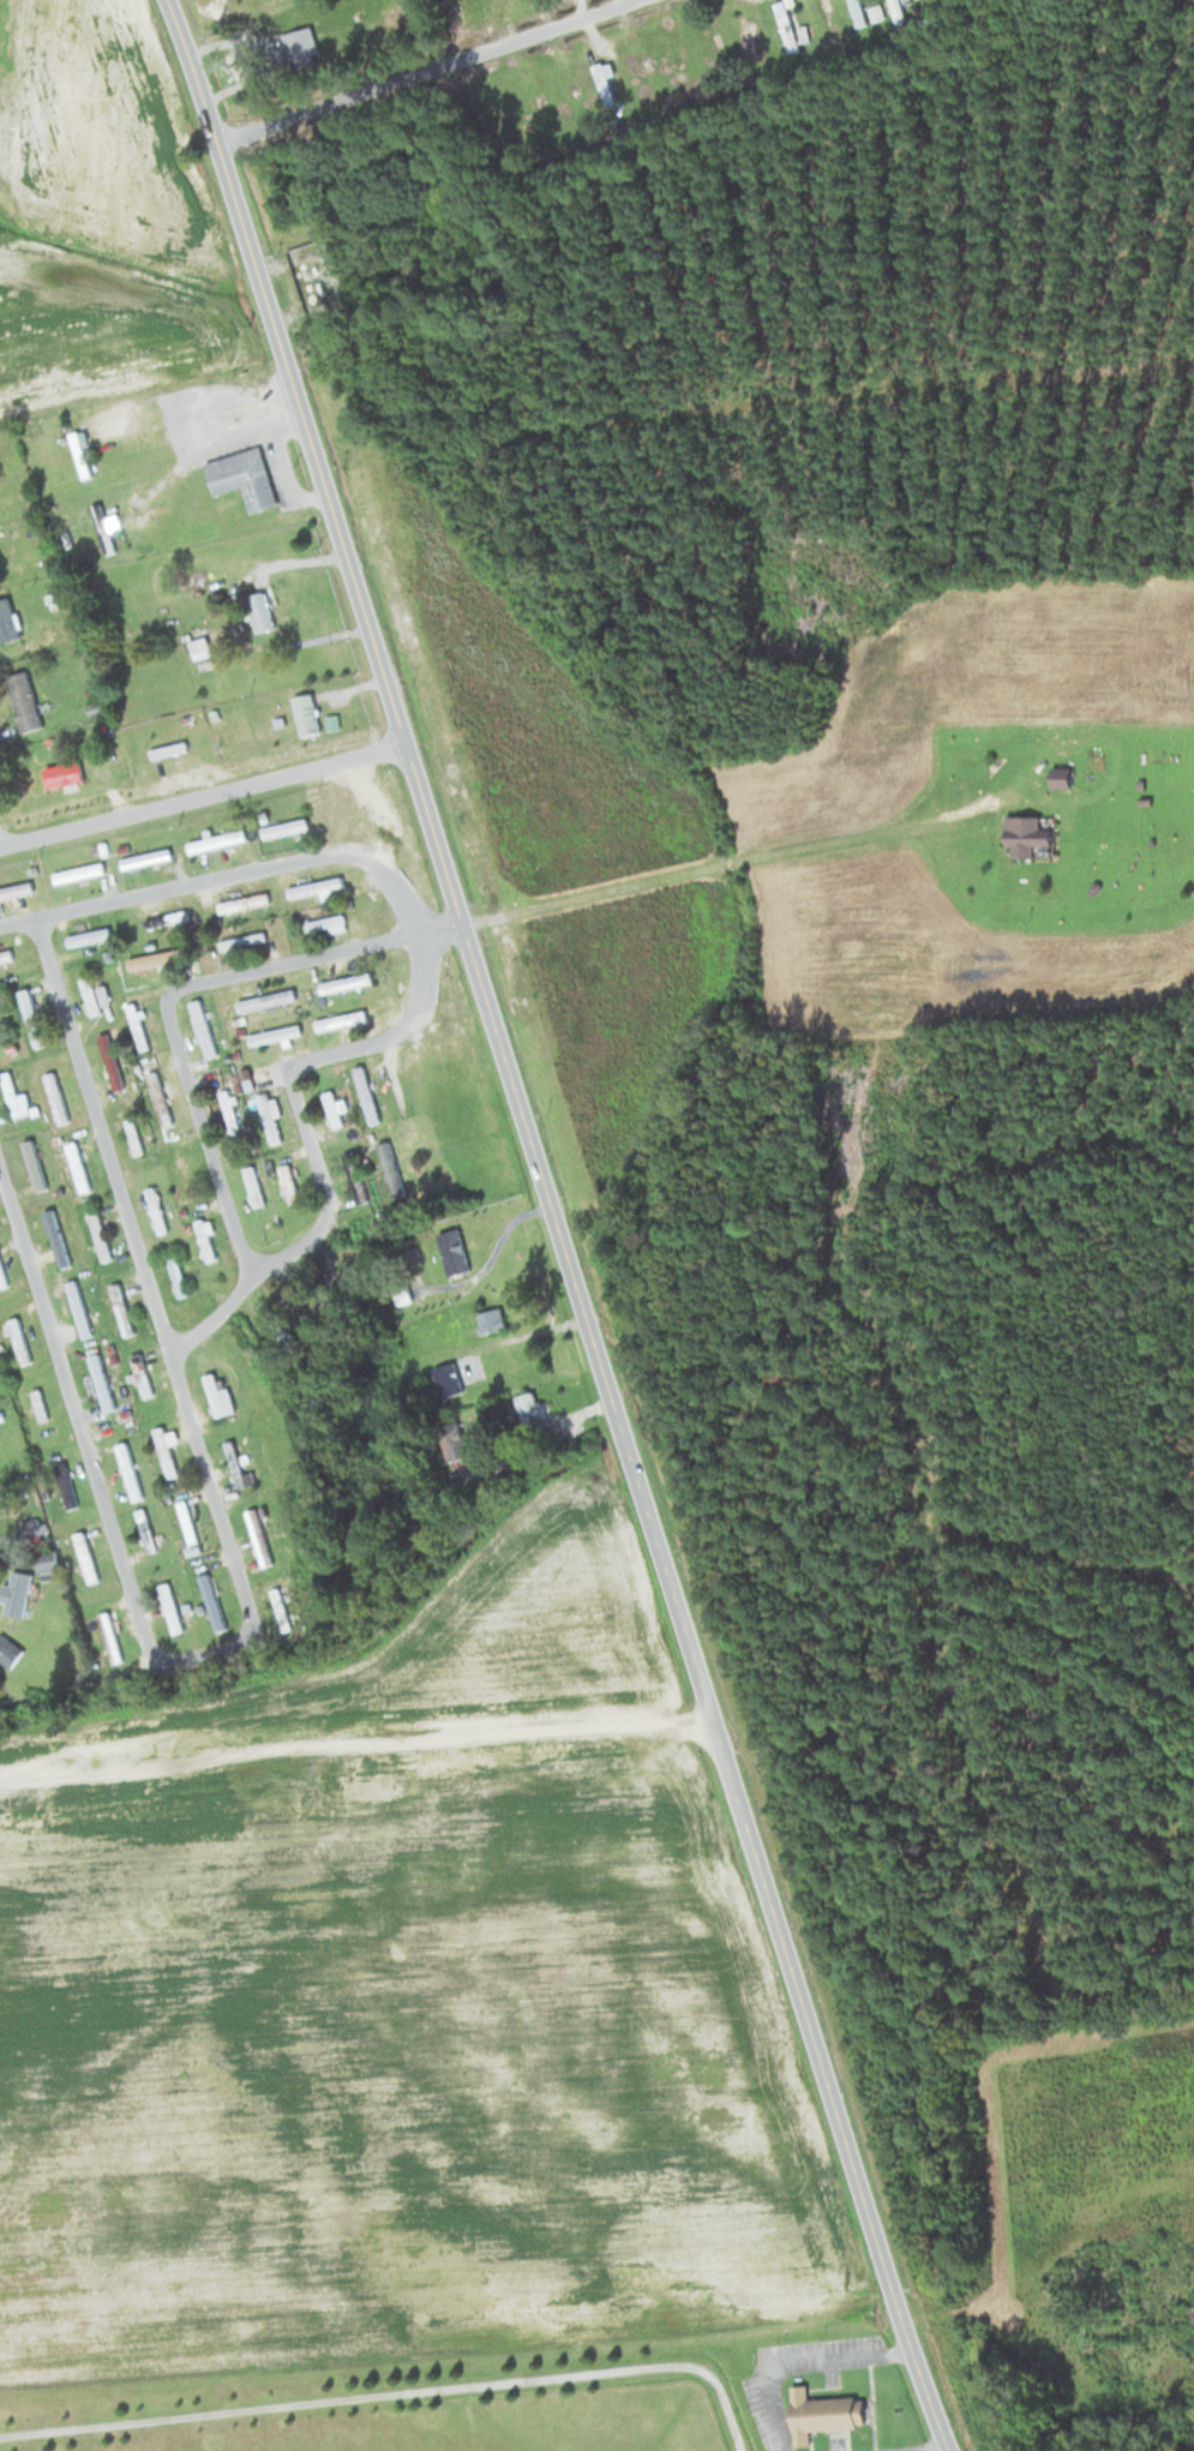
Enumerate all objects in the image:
building: (895, 10)
building: (856, 12)
building: (785, 25)
building: (298, 41)
building: (709, 46)
building: (674, 60)
building: (638, 66)
road: (443, 83)
building: (602, 83)
building: (241, 477)
building: (101, 528)
building: (258, 611)
building: (198, 646)
building: (22, 700)
building: (305, 713)
building: (60, 774)
building: (1060, 777)
road: (200, 796)
building: (283, 826)
road: (864, 833)
building: (1026, 835)
building: (144, 856)
road: (726, 859)
road: (248, 867)
building: (77, 871)
building: (313, 885)
road: (582, 893)
building: (242, 900)
building: (164, 917)
road: (17, 921)
building: (323, 922)
building: (95, 933)
building: (244, 935)
building: (4, 952)
building: (156, 955)
road: (310, 959)
building: (344, 981)
building: (89, 994)
building: (265, 997)
building: (30, 1015)
building: (341, 1018)
building: (136, 1025)
building: (203, 1030)
building: (274, 1032)
road: (396, 1041)
building: (109, 1060)
building: (238, 1078)
building: (10, 1092)
building: (55, 1093)
building: (365, 1093)
building: (158, 1097)
road: (396, 1098)
building: (331, 1108)
building: (228, 1109)
building: (268, 1111)
road: (101, 1131)
building: (132, 1134)
road: (206, 1139)
building: (31, 1161)
building: (76, 1165)
building: (389, 1167)
building: (182, 1171)
building: (353, 1176)
building: (287, 1181)
building: (252, 1185)
building: (197, 1205)
building: (155, 1209)
road: (558, 1224)
building: (97, 1233)
building: (204, 1235)
building: (55, 1236)
road: (307, 1238)
building: (452, 1251)
building: (175, 1275)
building: (1, 1277)
building: (402, 1293)
building: (77, 1307)
building: (120, 1307)
building: (488, 1318)
building: (275, 1320)
building: (17, 1338)
building: (139, 1373)
building: (100, 1380)
building: (445, 1380)
building: (215, 1392)
building: (37, 1403)
building: (530, 1406)
building: (163, 1450)
building: (234, 1462)
building: (62, 1485)
building: (186, 1520)
building: (29, 1528)
building: (144, 1529)
building: (257, 1536)
building: (46, 1565)
building: (16, 1594)
building: (209, 1595)
building: (169, 1606)
road: (136, 1608)
building: (278, 1608)
building: (108, 1636)
building: (7, 1652)
road: (354, 1745)
road: (397, 2390)
building: (823, 2413)

